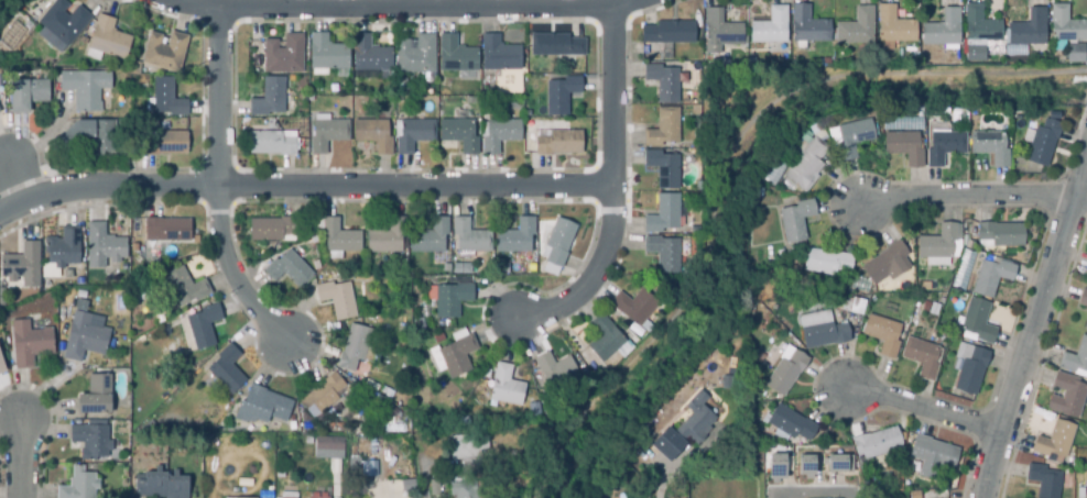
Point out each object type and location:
road: (420, 12)
building: (62, 26)
building: (808, 26)
building: (980, 26)
building: (1066, 26)
building: (771, 27)
building: (894, 27)
building: (857, 29)
building: (721, 30)
building: (943, 30)
building: (1029, 30)
building: (668, 33)
building: (107, 41)
building: (556, 46)
building: (256, 49)
building: (165, 54)
building: (975, 54)
building: (1075, 54)
building: (499, 55)
building: (284, 56)
building: (326, 56)
building: (416, 56)
building: (456, 56)
building: (371, 57)
building: (134, 70)
building: (664, 84)
building: (86, 90)
building: (26, 91)
building: (401, 91)
building: (561, 96)
building: (166, 100)
building: (269, 100)
building: (1054, 117)
building: (530, 124)
building: (664, 129)
building: (327, 134)
building: (413, 135)
building: (459, 135)
building: (498, 135)
building: (100, 136)
building: (373, 136)
building: (805, 137)
building: (854, 139)
building: (164, 144)
building: (271, 144)
building: (553, 144)
building: (1043, 144)
building: (944, 147)
building: (990, 147)
building: (904, 148)
building: (806, 166)
road: (722, 167)
building: (663, 169)
road: (17, 184)
road: (213, 185)
road: (300, 192)
road: (1081, 193)
road: (970, 195)
road: (605, 196)
building: (663, 215)
building: (796, 221)
building: (169, 230)
building: (272, 230)
building: (1000, 235)
building: (470, 237)
building: (517, 237)
building: (339, 239)
building: (387, 239)
building: (430, 239)
building: (558, 243)
building: (939, 244)
building: (104, 247)
building: (64, 250)
building: (663, 254)
building: (887, 263)
building: (827, 264)
building: (22, 266)
building: (445, 266)
building: (461, 267)
building: (289, 269)
building: (502, 269)
power tower: (1065, 275)
building: (991, 278)
building: (185, 287)
building: (925, 287)
building: (1083, 299)
building: (337, 300)
building: (452, 300)
building: (634, 307)
building: (926, 308)
building: (856, 309)
building: (935, 310)
building: (978, 321)
building: (419, 325)
building: (1085, 327)
building: (203, 328)
road: (1036, 329)
building: (822, 331)
building: (883, 335)
building: (84, 339)
building: (605, 339)
building: (30, 344)
building: (355, 348)
building: (457, 356)
building: (922, 358)
building: (1075, 359)
power tower: (1039, 366)
building: (2, 367)
building: (970, 368)
building: (227, 370)
building: (556, 370)
building: (786, 372)
building: (727, 383)
building: (506, 387)
building: (96, 397)
building: (1067, 397)
building: (320, 402)
building: (262, 407)
building: (534, 408)
road: (926, 408)
building: (357, 413)
building: (791, 423)
building: (696, 424)
building: (670, 441)
building: (1055, 441)
building: (91, 442)
building: (328, 445)
building: (879, 446)
power tower: (1015, 447)
building: (468, 450)
road: (20, 457)
building: (756, 457)
building: (932, 457)
building: (838, 463)
building: (805, 465)
building: (252, 472)
building: (236, 473)
building: (816, 475)
road: (663, 478)
building: (1045, 482)
building: (80, 484)
building: (161, 487)
building: (434, 488)
building: (468, 490)
building: (595, 491)
building: (920, 495)
building: (289, 496)
building: (318, 496)
building: (237, 497)

